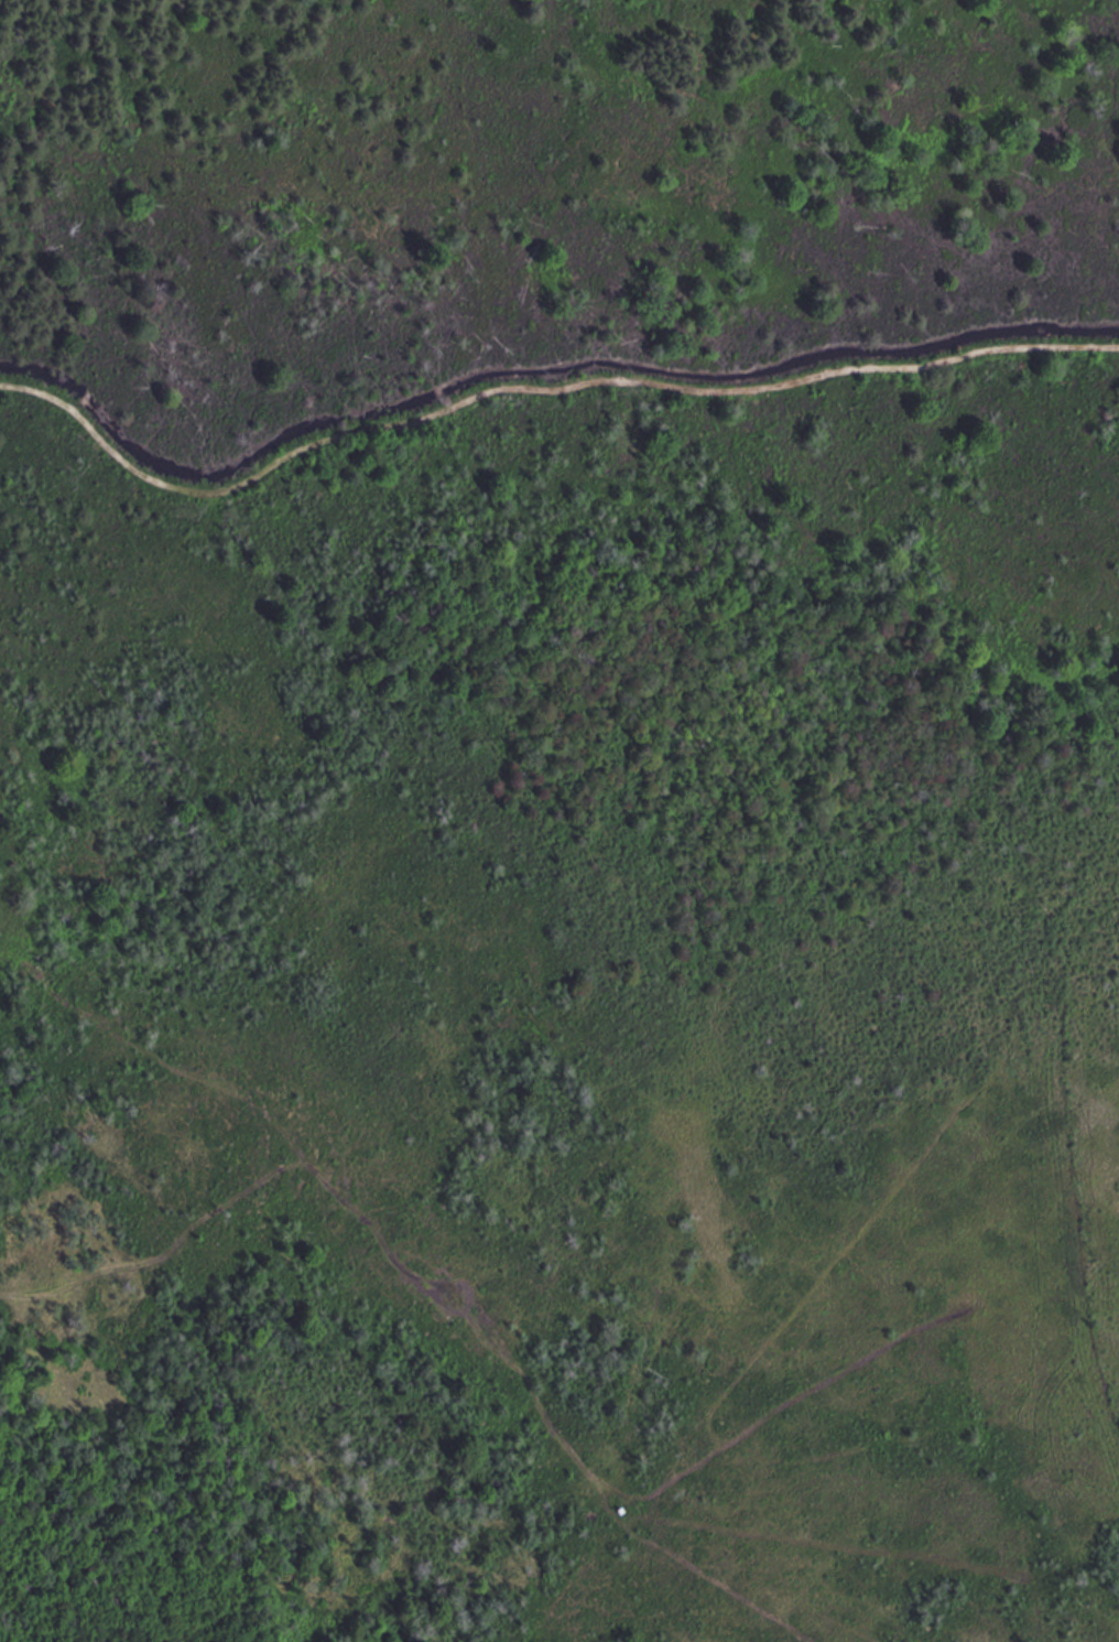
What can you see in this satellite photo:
road: (537, 398)

